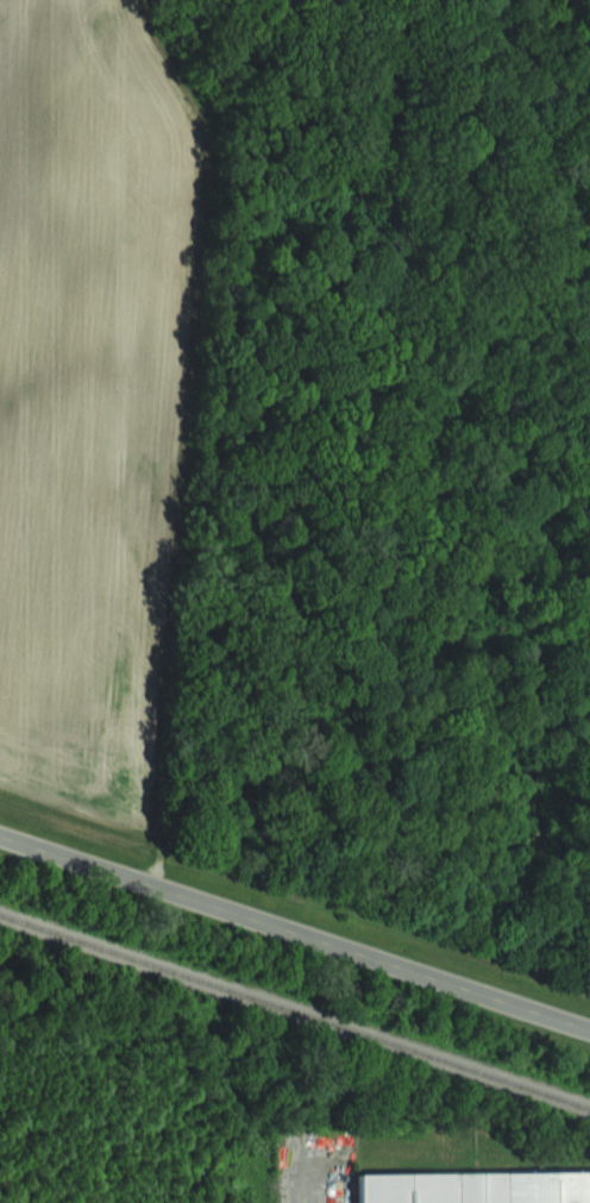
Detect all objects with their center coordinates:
road: (295, 934)
railway: (294, 1010)
building: (477, 1188)

